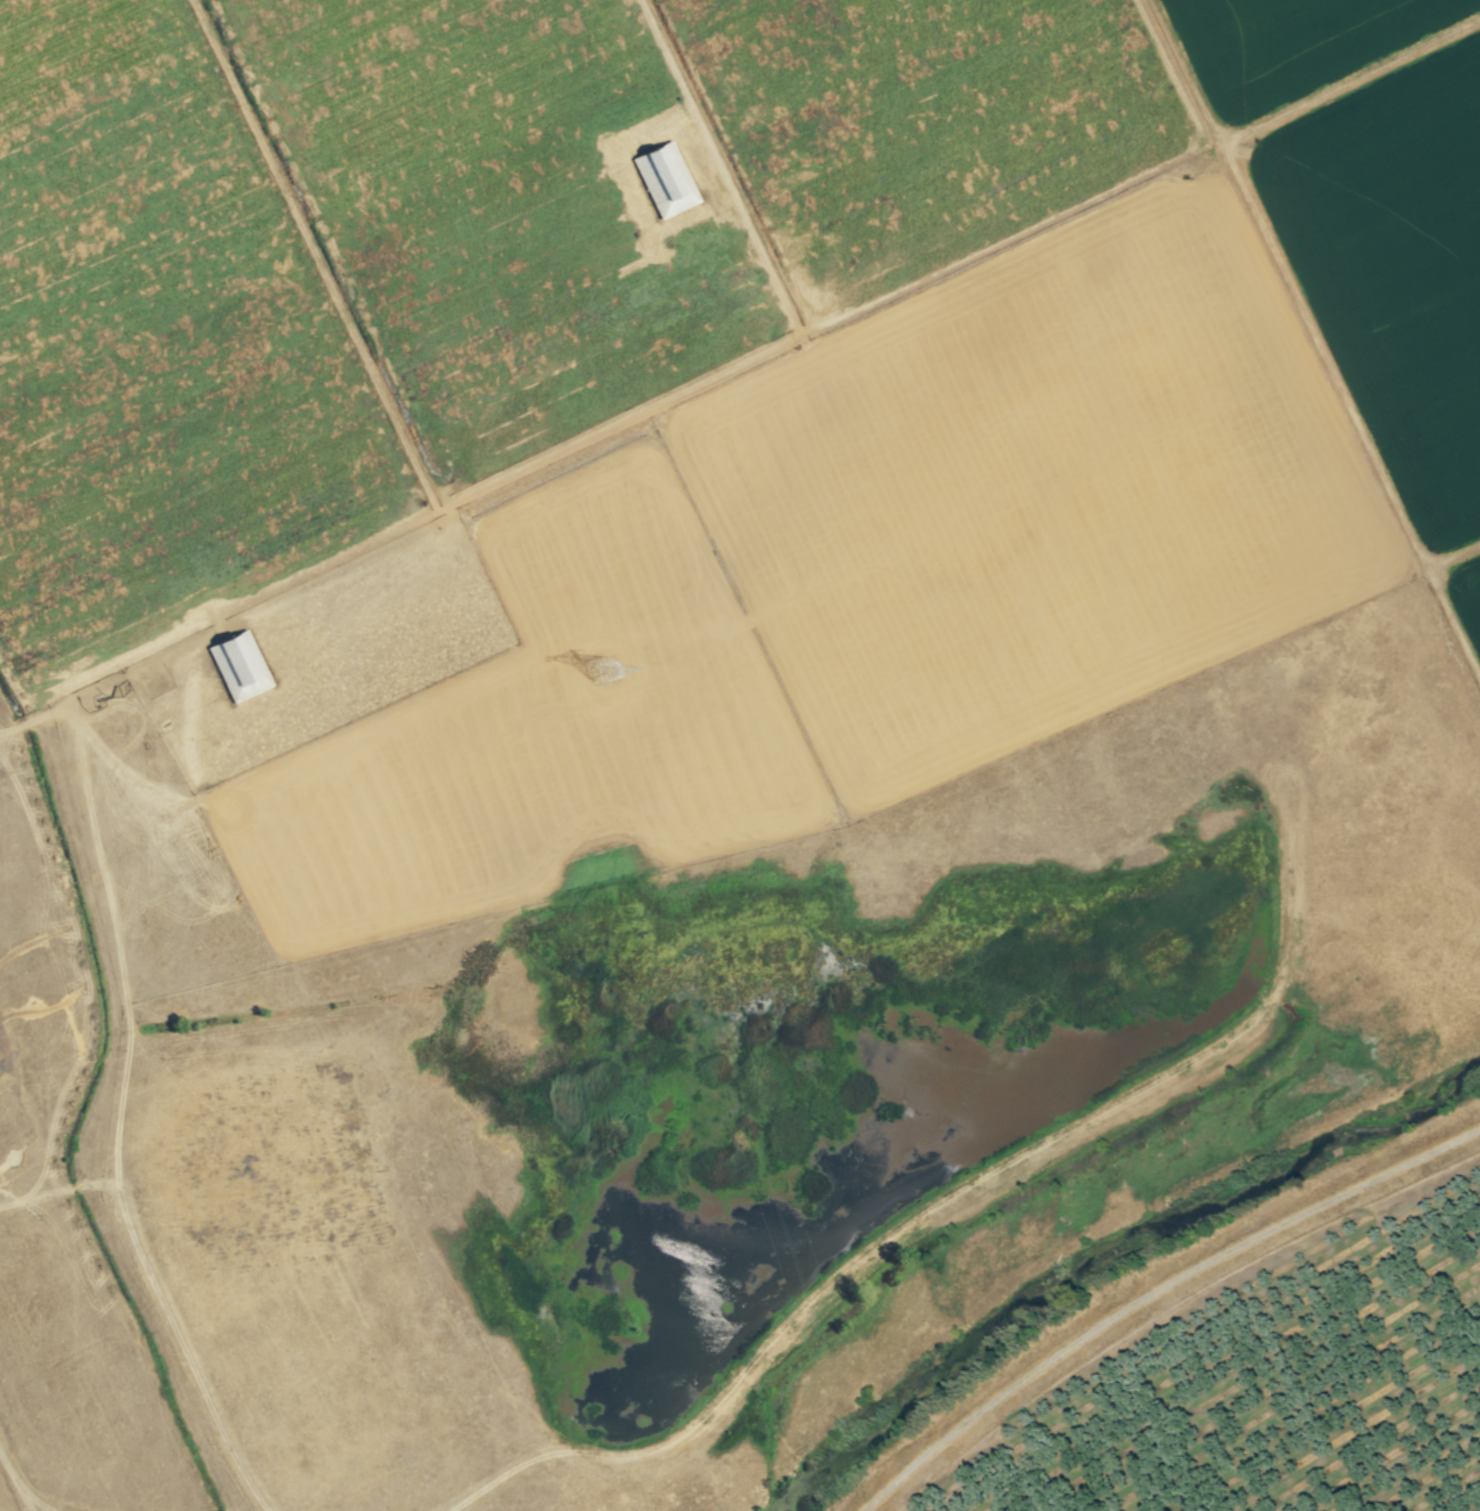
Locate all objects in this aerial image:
building: (238, 667)
power tower: (603, 672)
road: (25, 722)
road: (23, 1483)

